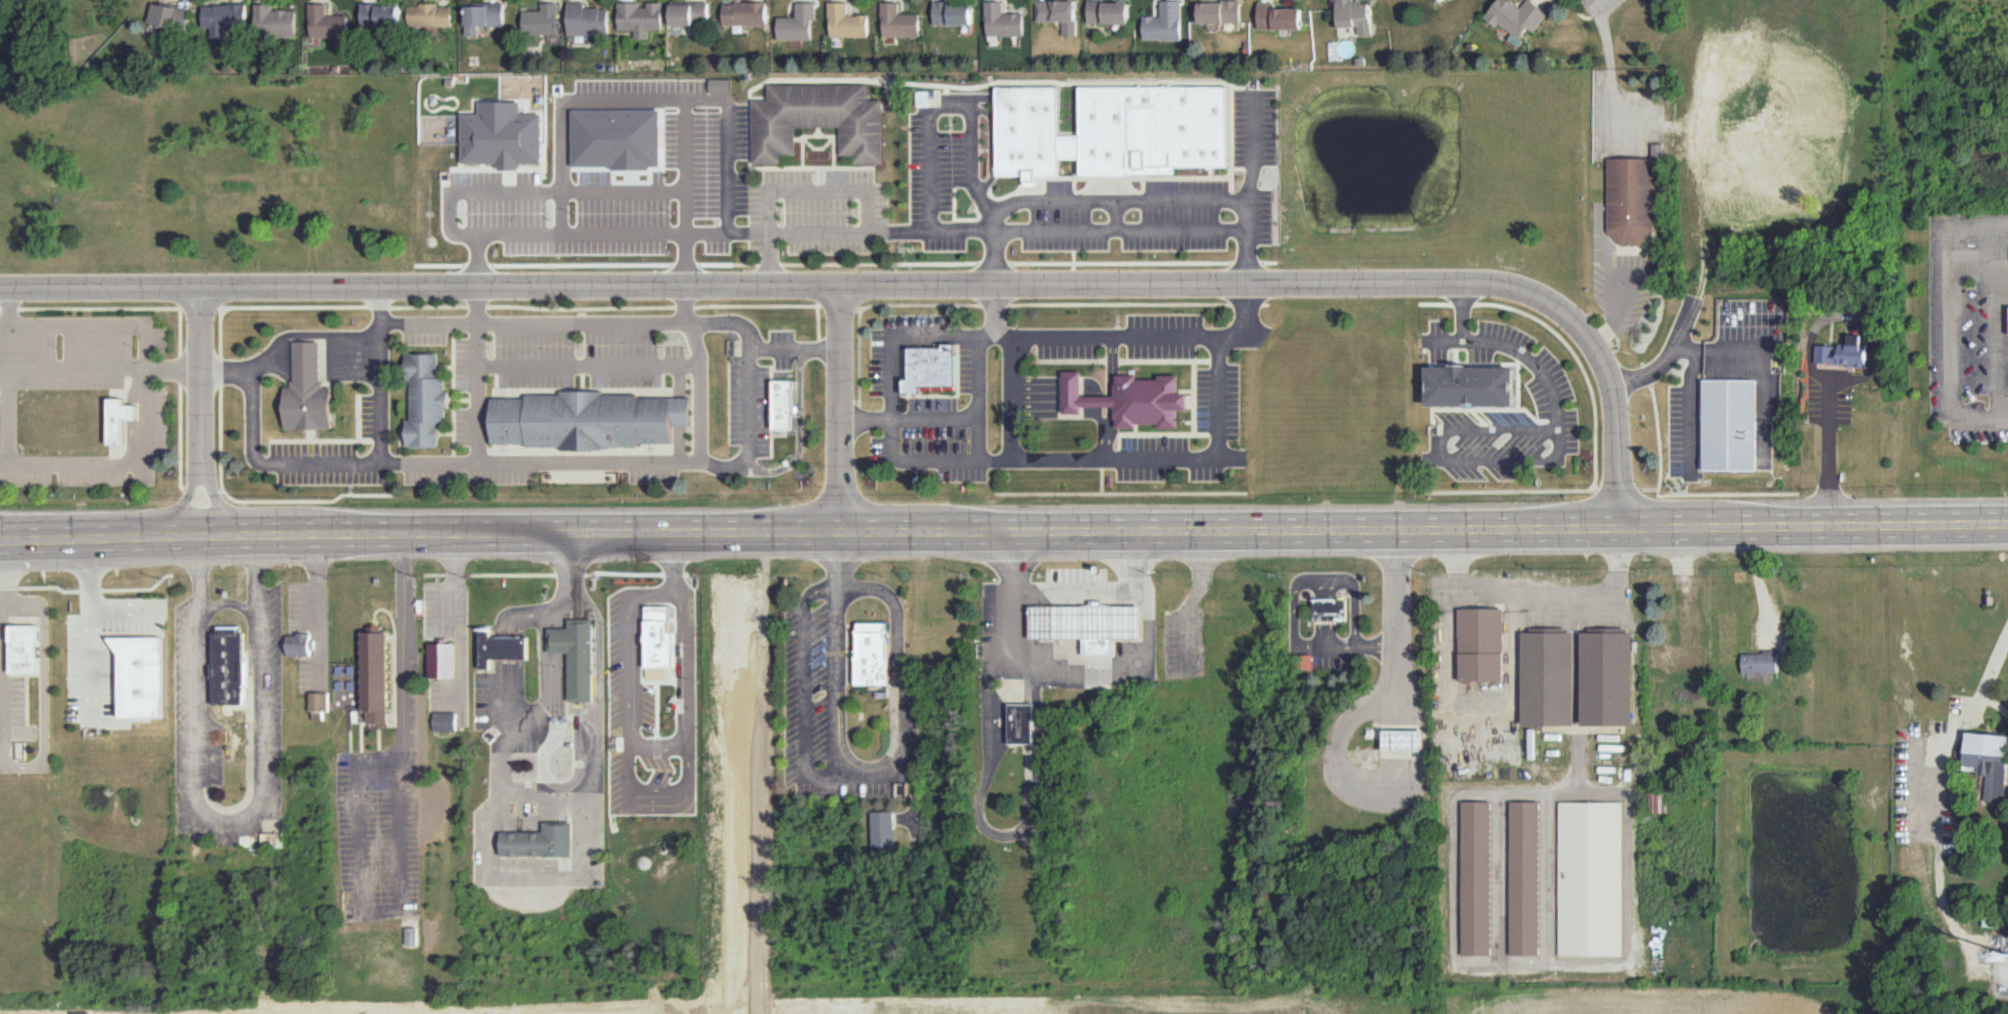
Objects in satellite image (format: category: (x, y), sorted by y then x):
road: (1603, 3)
building: (1107, 11)
building: (952, 12)
building: (1217, 12)
building: (379, 13)
building: (690, 13)
building: (744, 13)
building: (1057, 13)
building: (1354, 14)
road: (1593, 14)
building: (167, 15)
building: (430, 15)
building: (483, 15)
building: (1513, 16)
building: (640, 17)
building: (1279, 17)
building: (223, 19)
building: (541, 19)
building: (588, 19)
building: (1000, 19)
building: (899, 20)
building: (846, 21)
building: (1161, 21)
building: (275, 22)
building: (325, 23)
building: (797, 23)
road: (1610, 71)
road: (942, 108)
building: (814, 119)
building: (1148, 125)
building: (1022, 129)
building: (502, 135)
building: (1065, 144)
road: (1254, 144)
road: (730, 189)
road: (841, 190)
road: (507, 191)
road: (1123, 195)
building: (1630, 200)
road: (1056, 230)
road: (902, 286)
road: (1006, 305)
road: (689, 306)
road: (838, 306)
road: (446, 307)
road: (200, 309)
road: (1617, 311)
road: (1949, 313)
road: (1243, 320)
road: (179, 326)
road: (901, 335)
road: (305, 336)
road: (1993, 340)
road: (1563, 341)
road: (1507, 346)
road: (377, 349)
road: (758, 350)
building: (1843, 352)
road: (1691, 361)
road: (281, 362)
road: (310, 362)
road: (350, 362)
road: (589, 365)
building: (932, 368)
road: (100, 372)
road: (479, 375)
road: (8, 376)
road: (200, 378)
road: (1110, 384)
building: (1464, 386)
parking lot: (93, 387)
road: (1087, 388)
building: (310, 393)
road: (700, 394)
road: (145, 396)
road: (1012, 399)
building: (1126, 400)
building: (427, 401)
building: (779, 405)
road: (1218, 407)
road: (749, 410)
road: (843, 410)
building: (124, 420)
building: (589, 420)
road: (1657, 424)
building: (1729, 424)
road: (799, 431)
road: (975, 456)
road: (1442, 458)
road: (326, 464)
road: (1829, 464)
road: (725, 465)
road: (1616, 489)
road: (1120, 493)
road: (217, 500)
road: (184, 501)
road: (306, 501)
road: (1425, 530)
road: (508, 536)
road: (87, 537)
road: (840, 562)
road: (258, 574)
road: (199, 575)
road: (1758, 578)
road: (1687, 581)
road: (453, 583)
road: (572, 583)
road: (764, 589)
road: (654, 590)
road: (674, 591)
road: (1077, 592)
road: (1190, 599)
road: (1537, 599)
road: (228, 602)
road: (1294, 603)
road: (320, 607)
building: (1326, 609)
road: (575, 610)
road: (79, 613)
road: (1396, 613)
building: (651, 617)
building: (1082, 622)
building: (621, 625)
road: (545, 633)
building: (1229, 643)
building: (299, 644)
building: (1477, 644)
road: (516, 648)
building: (24, 649)
road: (408, 649)
building: (502, 649)
building: (731, 652)
building: (868, 655)
building: (579, 656)
building: (759, 657)
building: (1674, 658)
road: (578, 660)
building: (444, 661)
building: (1758, 661)
building: (229, 664)
road: (1080, 665)
road: (1995, 669)
building: (140, 674)
building: (379, 676)
building: (1544, 677)
building: (1603, 677)
road: (600, 678)
road: (837, 682)
building: (25, 684)
road: (516, 702)
building: (320, 704)
road: (1995, 707)
building: (444, 720)
building: (1018, 724)
road: (1637, 727)
road: (0, 732)
building: (1400, 740)
road: (656, 744)
building: (1986, 763)
road: (588, 774)
road: (657, 775)
road: (864, 775)
road: (561, 785)
building: (1654, 801)
road: (1937, 817)
road: (230, 827)
building: (883, 831)
road: (999, 835)
building: (542, 842)
building: (1589, 878)
road: (492, 879)
building: (1474, 879)
building: (1522, 879)
road: (361, 901)
building: (1993, 918)
building: (411, 935)
crop: (1687, 1006)
crop: (793, 1011)

